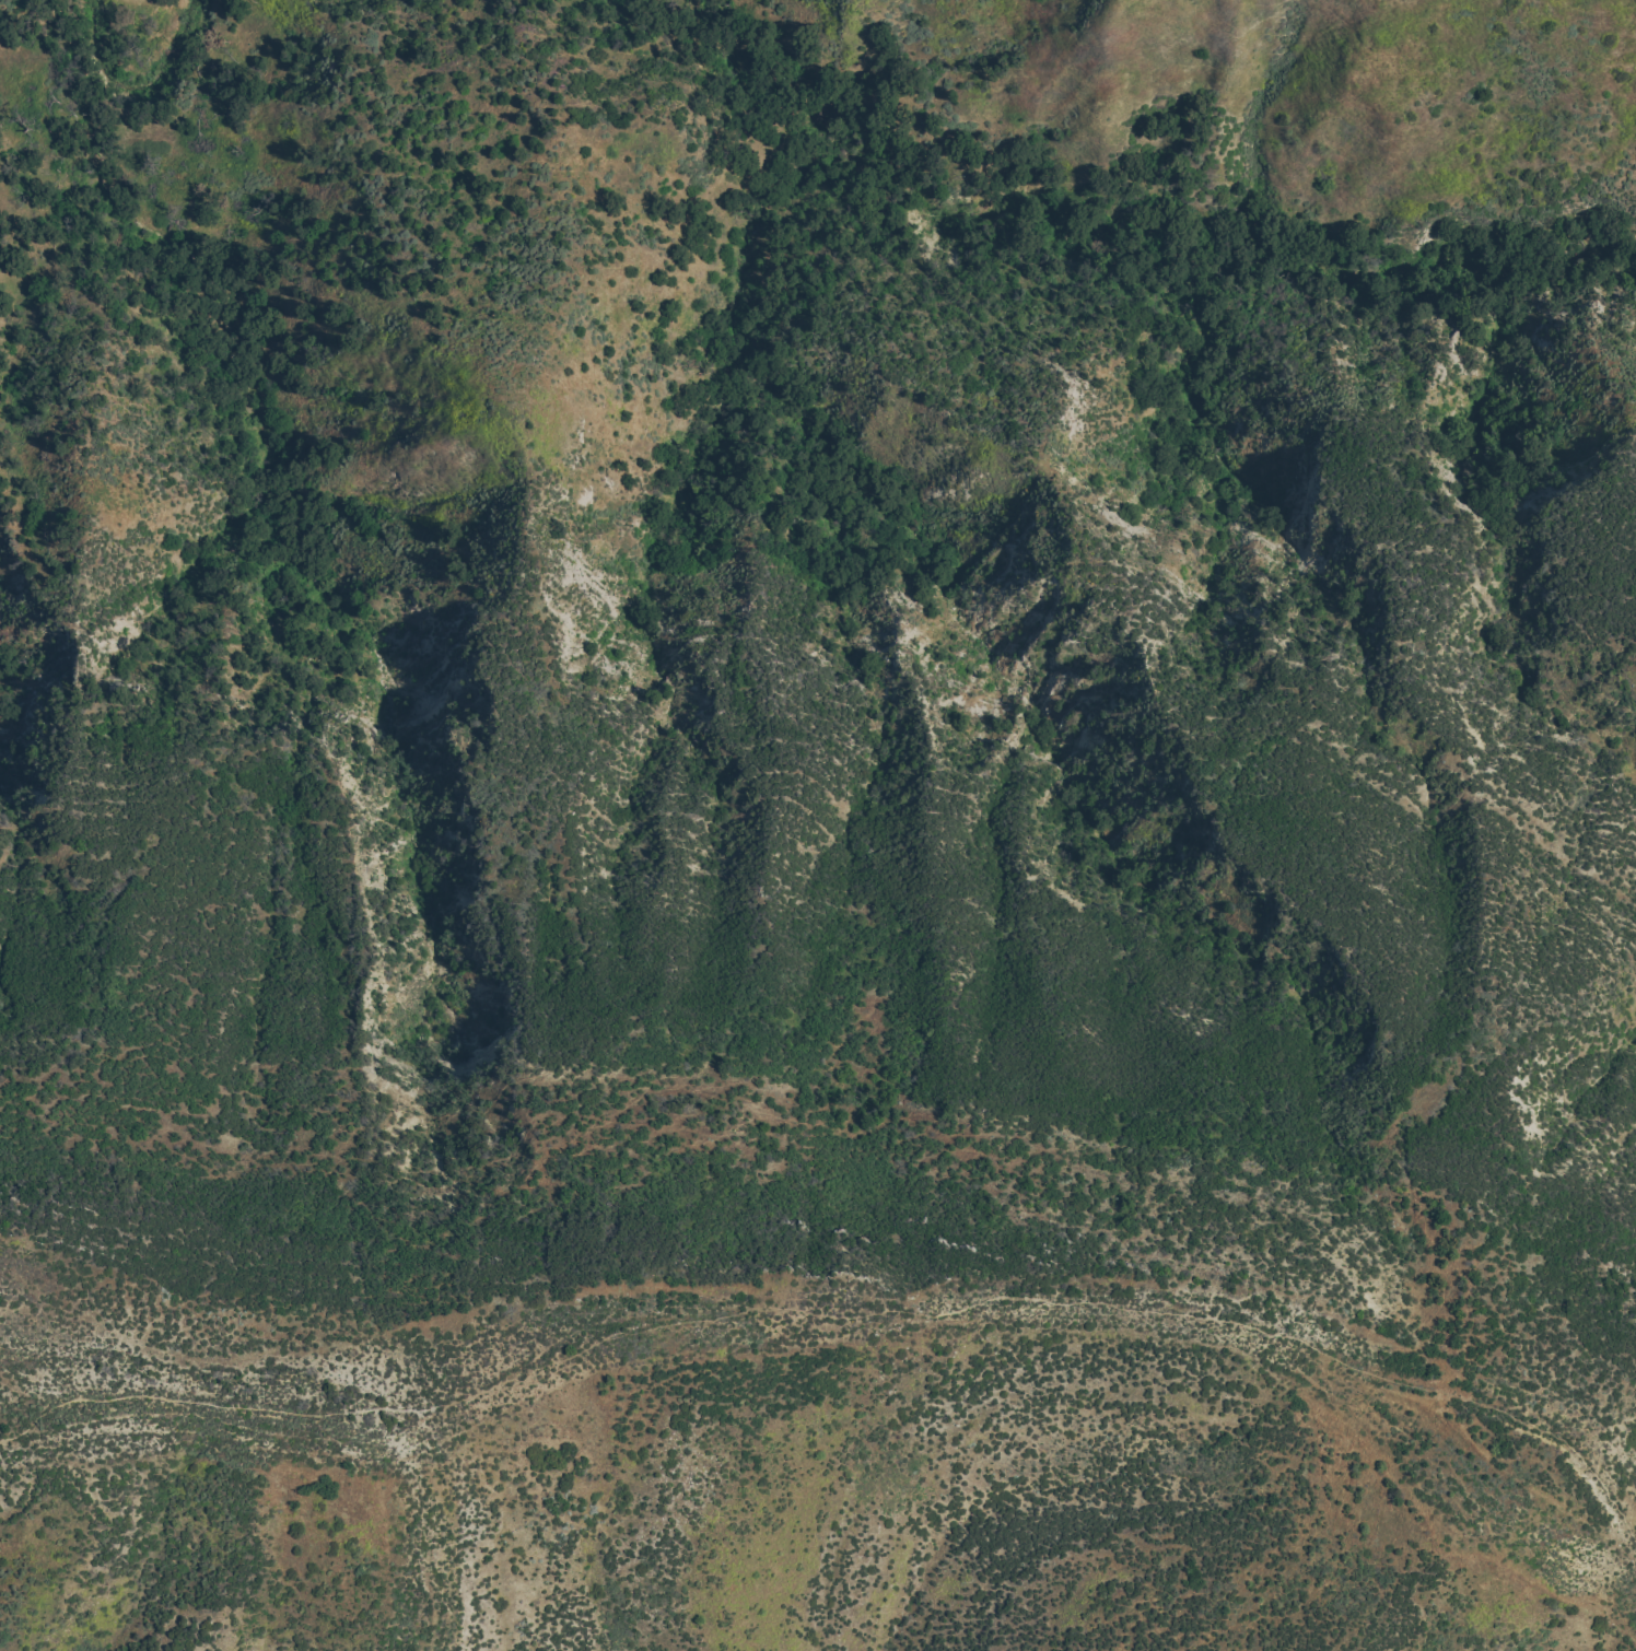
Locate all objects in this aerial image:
road: (841, 1313)

